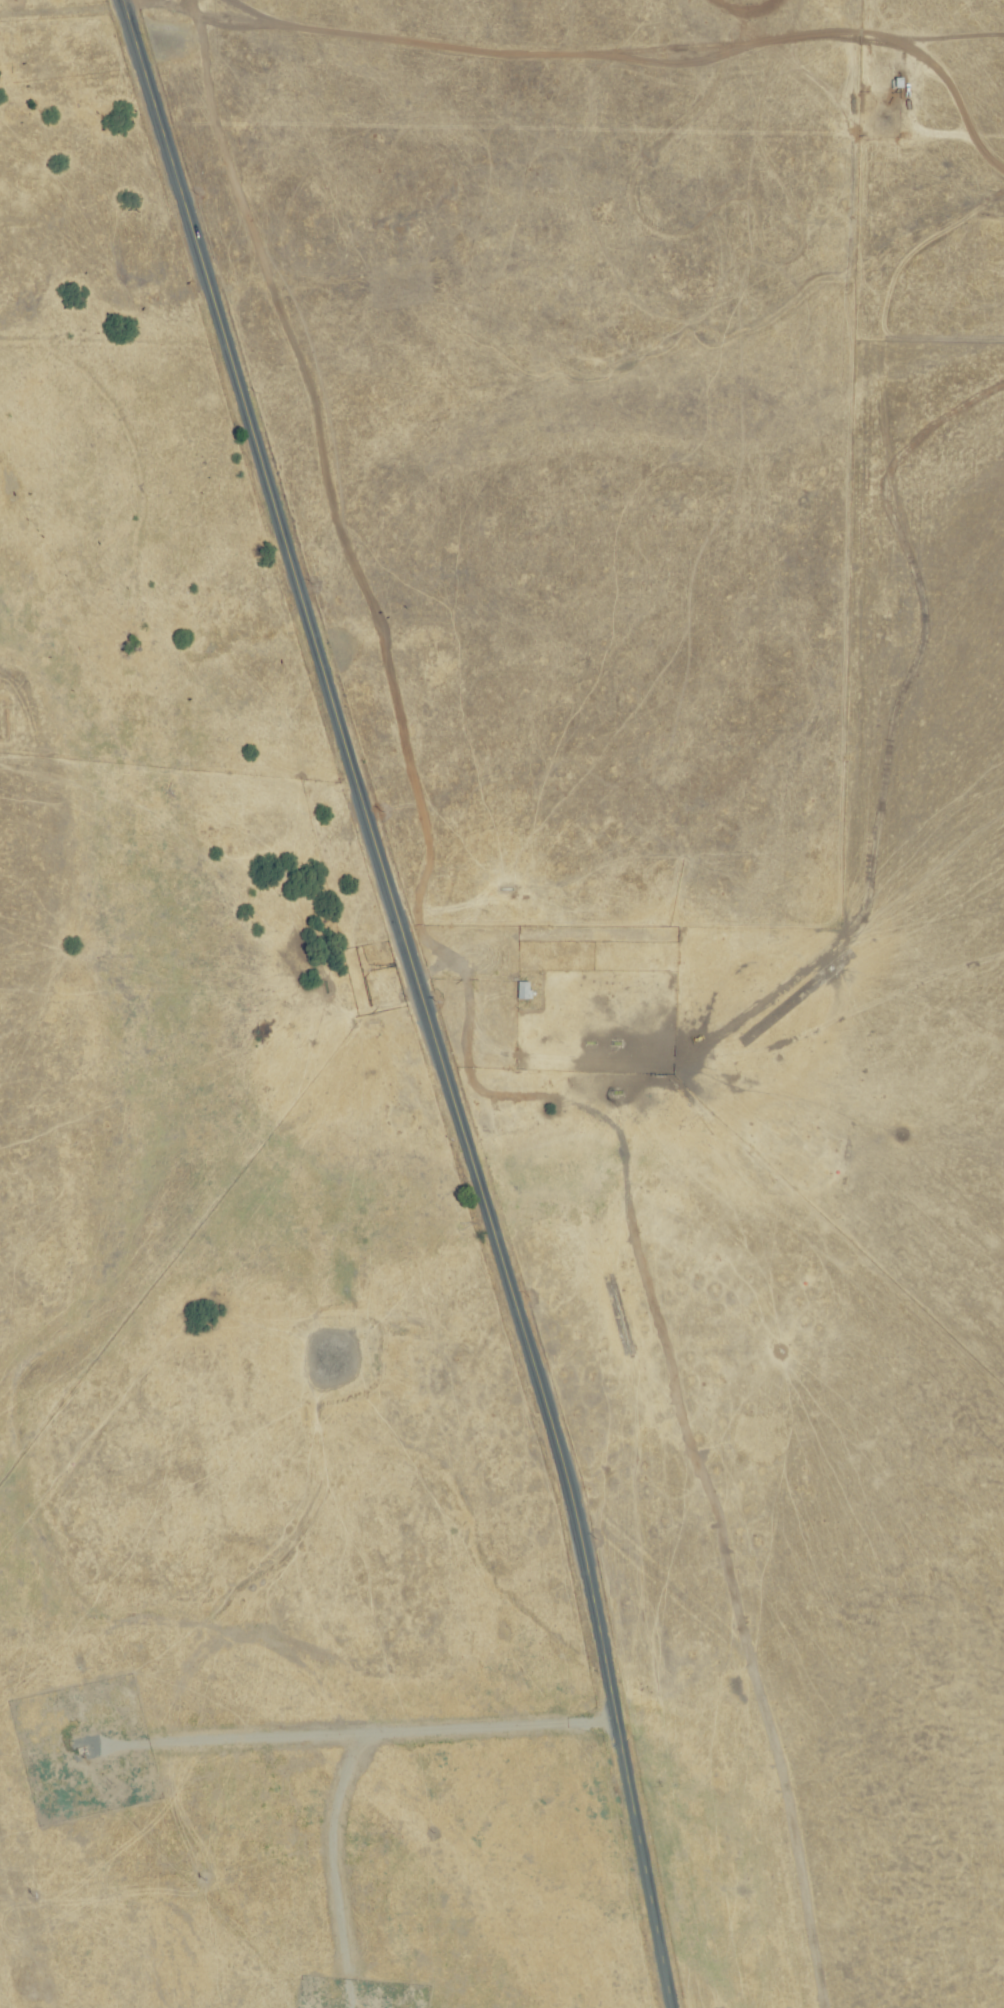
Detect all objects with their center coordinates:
road: (420, 997)
crop: (502, 1004)

